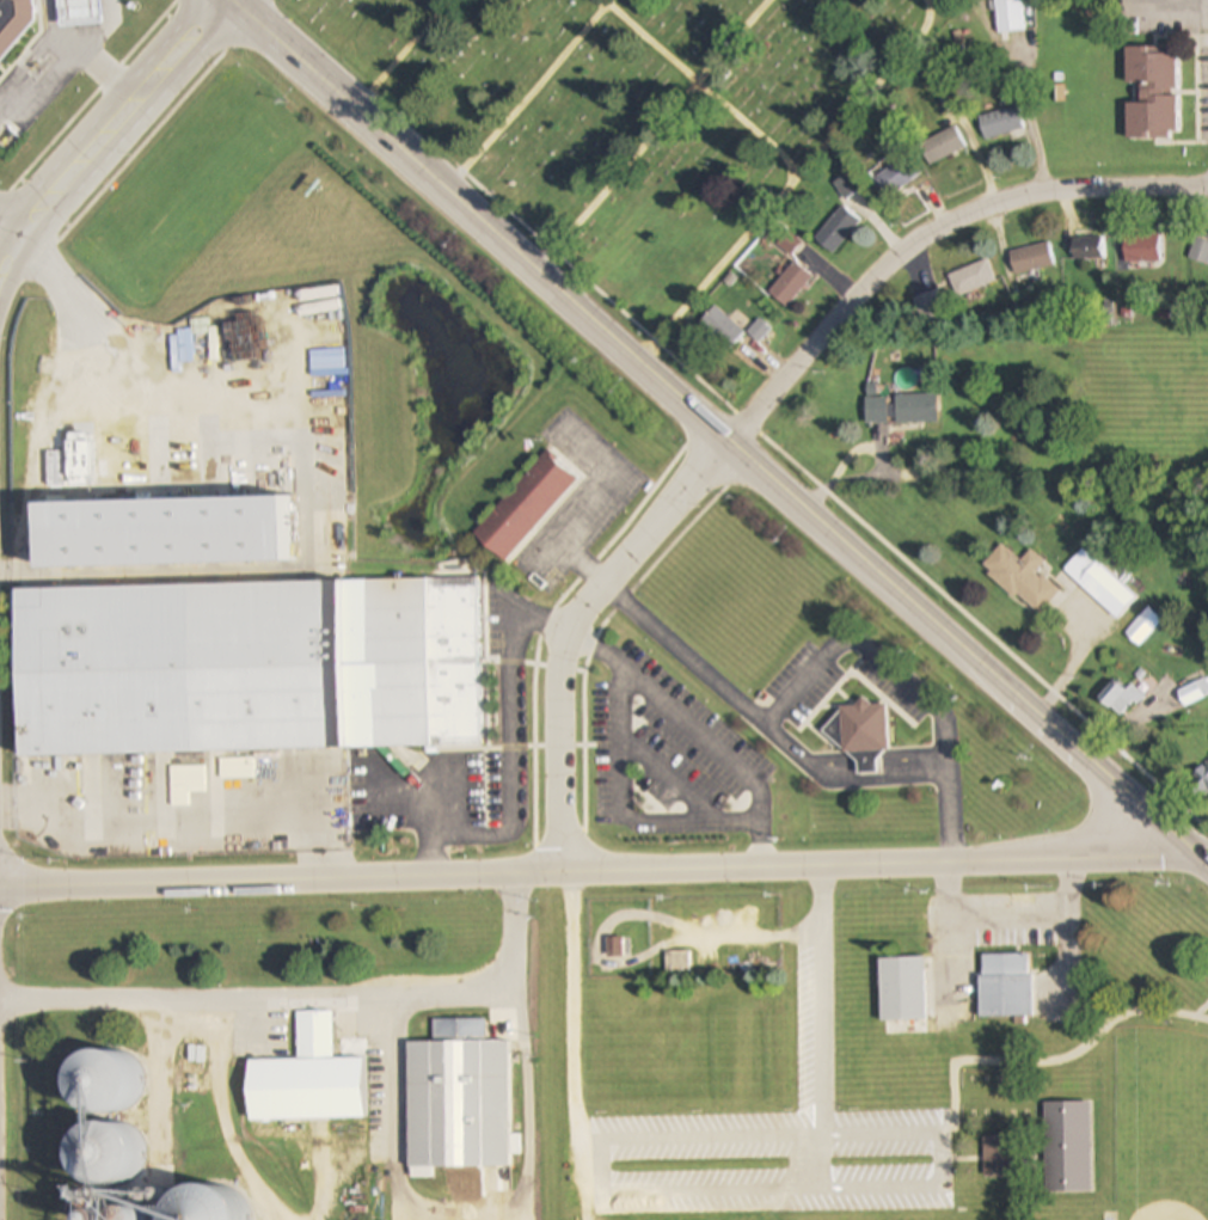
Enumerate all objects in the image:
building: (79, 12)
building: (1010, 16)
building: (13, 23)
road: (85, 54)
road: (294, 57)
building: (1153, 92)
park: (624, 116)
building: (1001, 122)
road: (97, 143)
building: (943, 146)
building: (896, 177)
road: (10, 227)
building: (836, 229)
building: (789, 244)
building: (1089, 247)
building: (1141, 247)
building: (1200, 251)
building: (1031, 258)
building: (973, 277)
road: (545, 281)
building: (790, 284)
building: (930, 304)
building: (271, 313)
building: (722, 327)
building: (761, 332)
building: (900, 409)
road: (761, 415)
building: (526, 507)
building: (164, 532)
building: (1020, 577)
building: (1099, 583)
building: (1143, 626)
road: (877, 652)
road: (970, 655)
building: (251, 673)
building: (1194, 692)
building: (1121, 699)
building: (860, 727)
road: (698, 735)
road: (798, 750)
road: (511, 756)
road: (347, 765)
road: (670, 783)
road: (627, 809)
road: (166, 828)
road: (603, 875)
building: (618, 946)
building: (1006, 986)
building: (902, 989)
road: (306, 995)
road: (822, 1026)
road: (570, 1035)
park: (891, 1059)
building: (312, 1078)
building: (459, 1098)
road: (527, 1103)
road: (392, 1120)
building: (1067, 1148)
road: (939, 1152)
building: (103, 1157)
building: (998, 1157)

